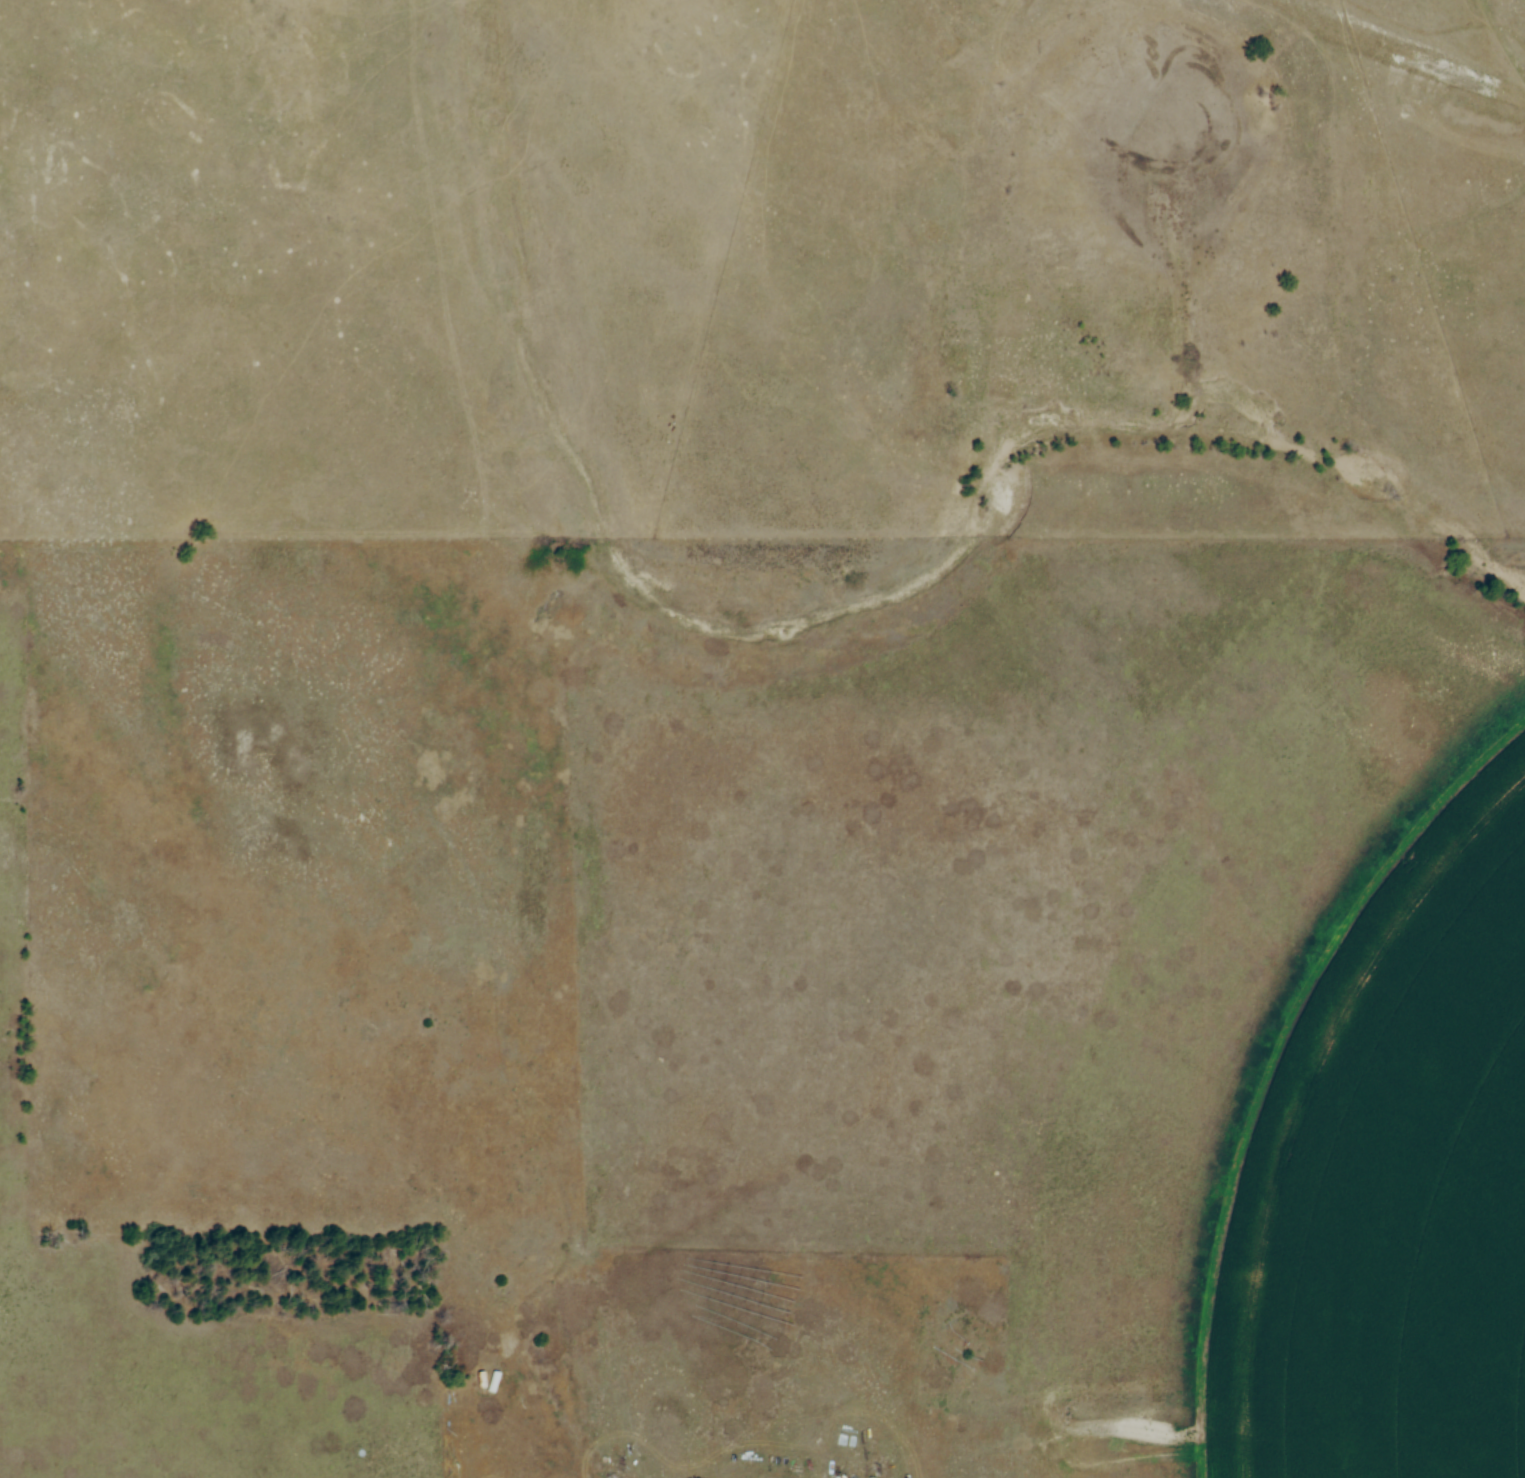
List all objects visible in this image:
building: (474, 1381)
building: (493, 1382)

